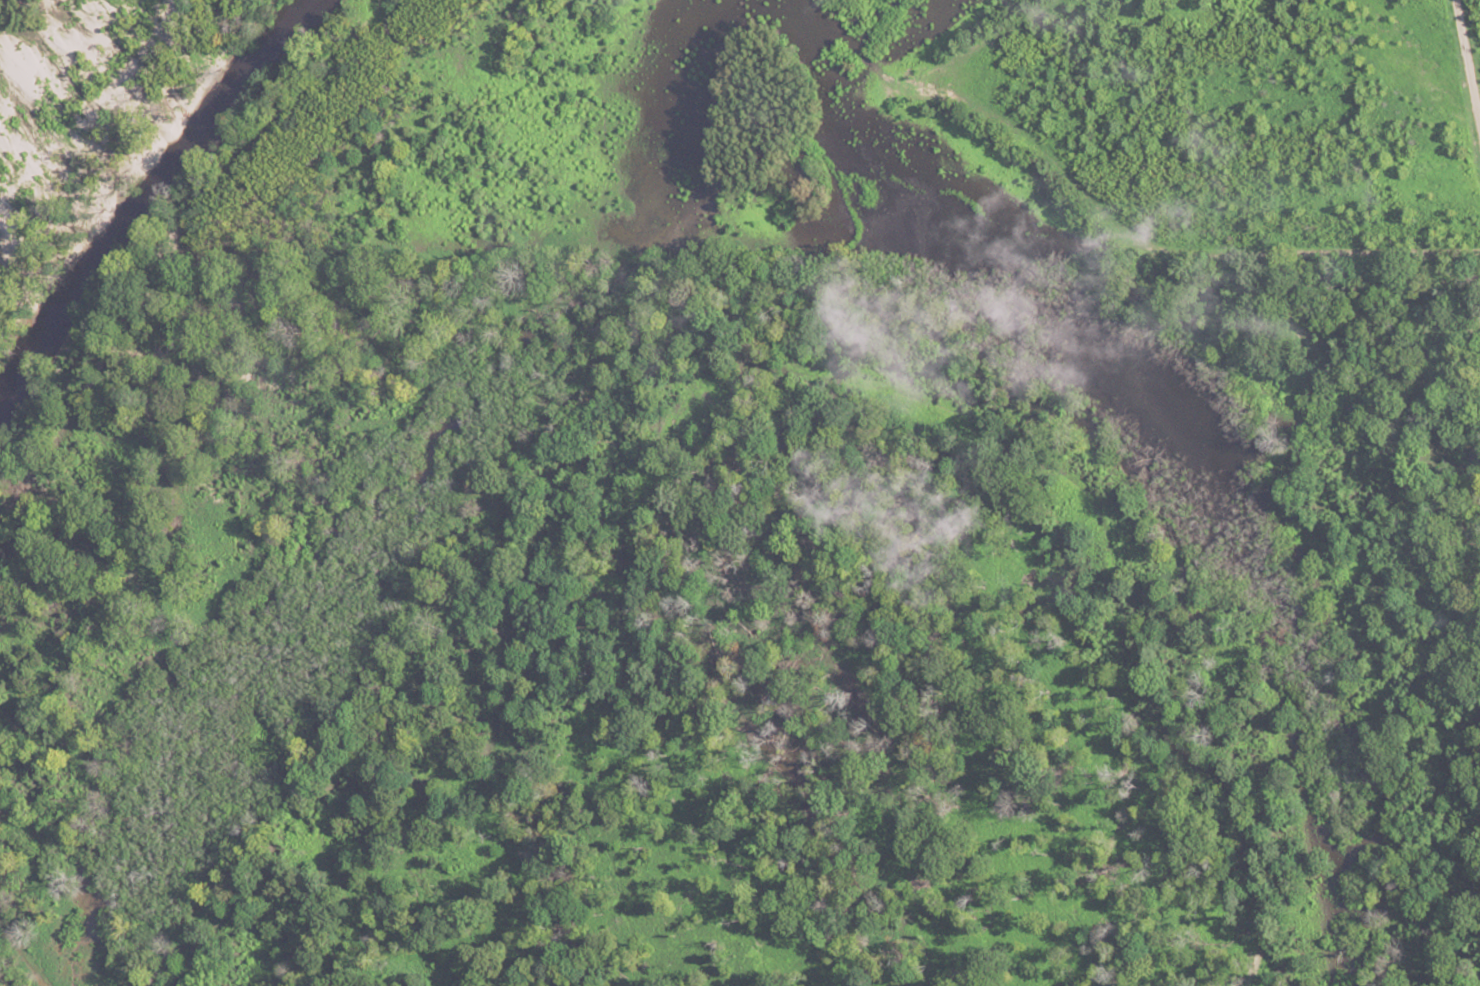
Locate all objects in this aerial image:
road: (1465, 77)

